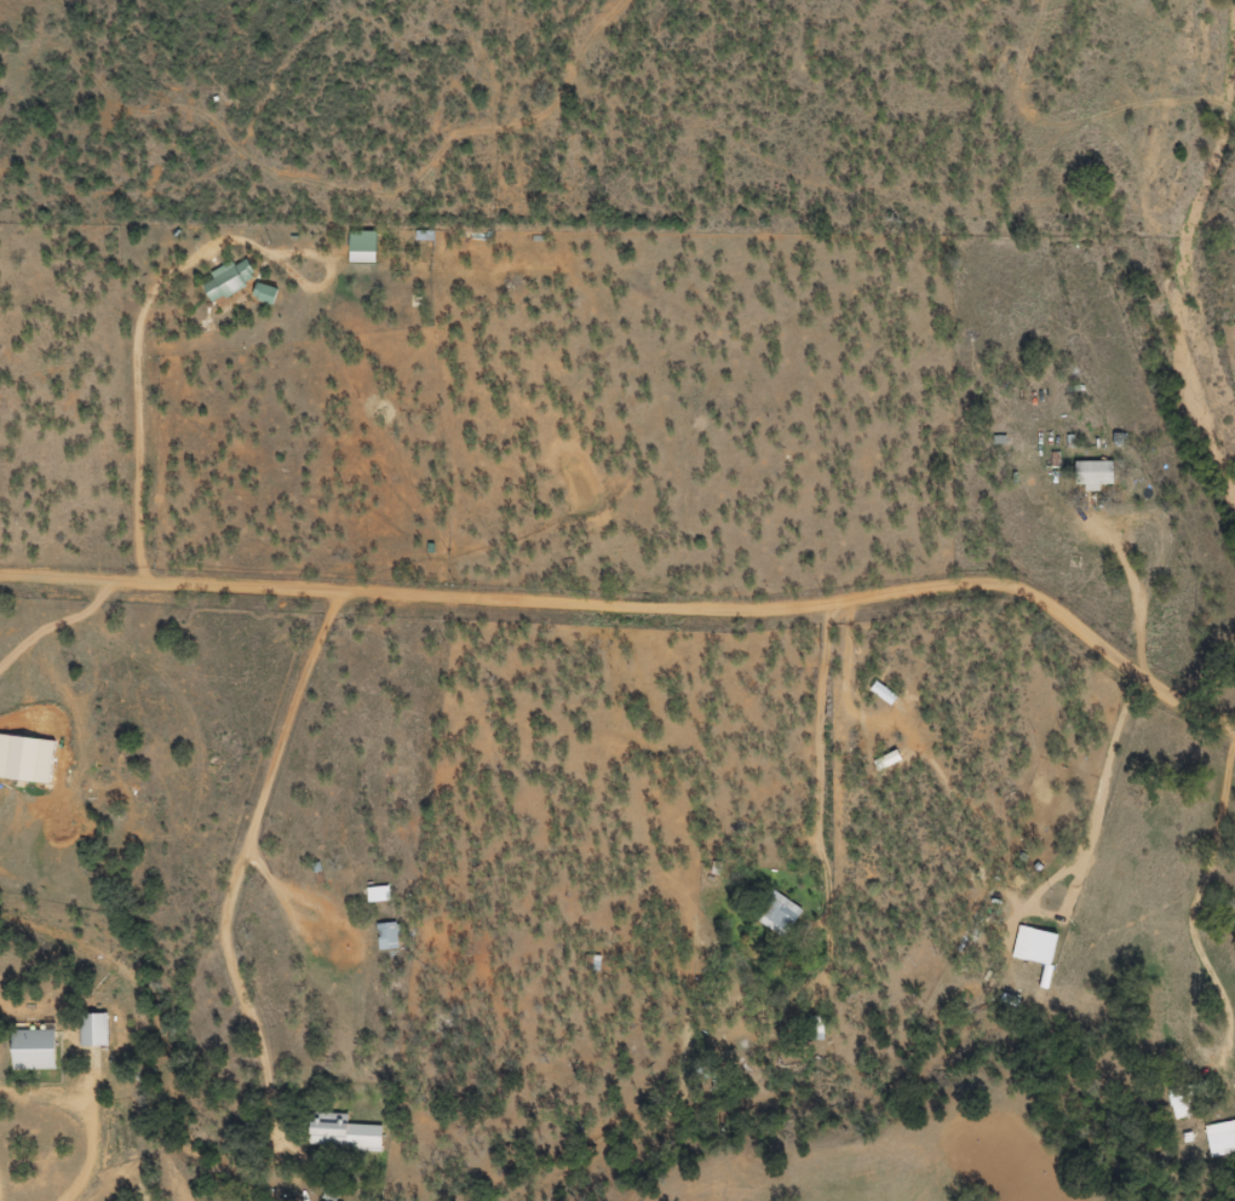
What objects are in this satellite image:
building: (364, 248)
building: (230, 282)
building: (268, 297)
building: (1095, 475)
road: (653, 622)
road: (643, 678)
building: (25, 759)
building: (379, 896)
building: (779, 915)
building: (389, 937)
building: (1036, 947)
building: (816, 1029)
building: (94, 1032)
building: (35, 1051)
building: (1181, 1104)
building: (345, 1134)
building: (1220, 1140)

